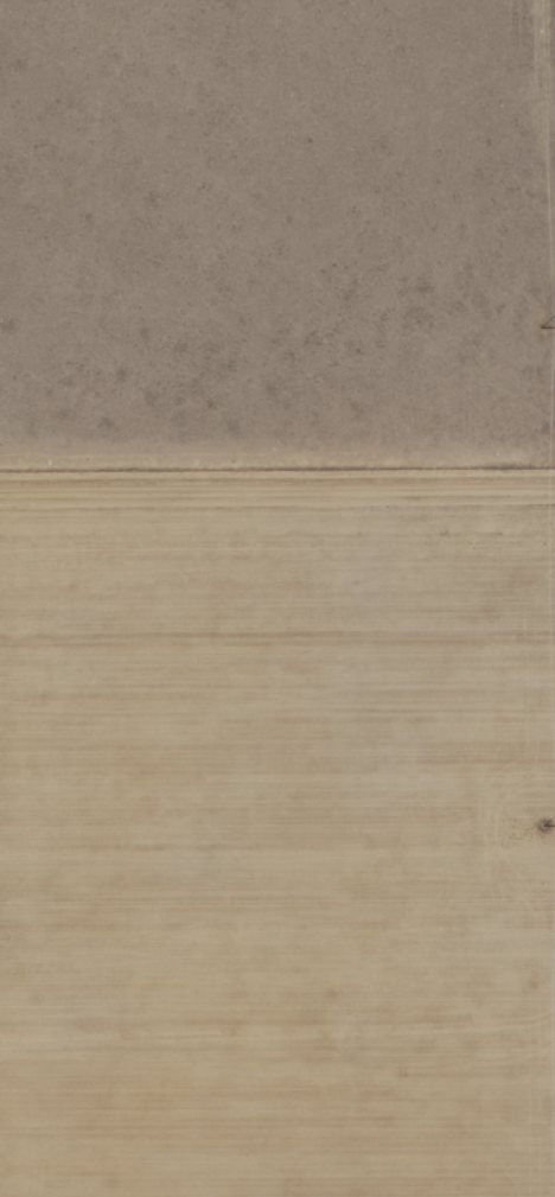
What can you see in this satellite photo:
power tower: (540, 327)
road: (276, 482)
power tower: (542, 823)

